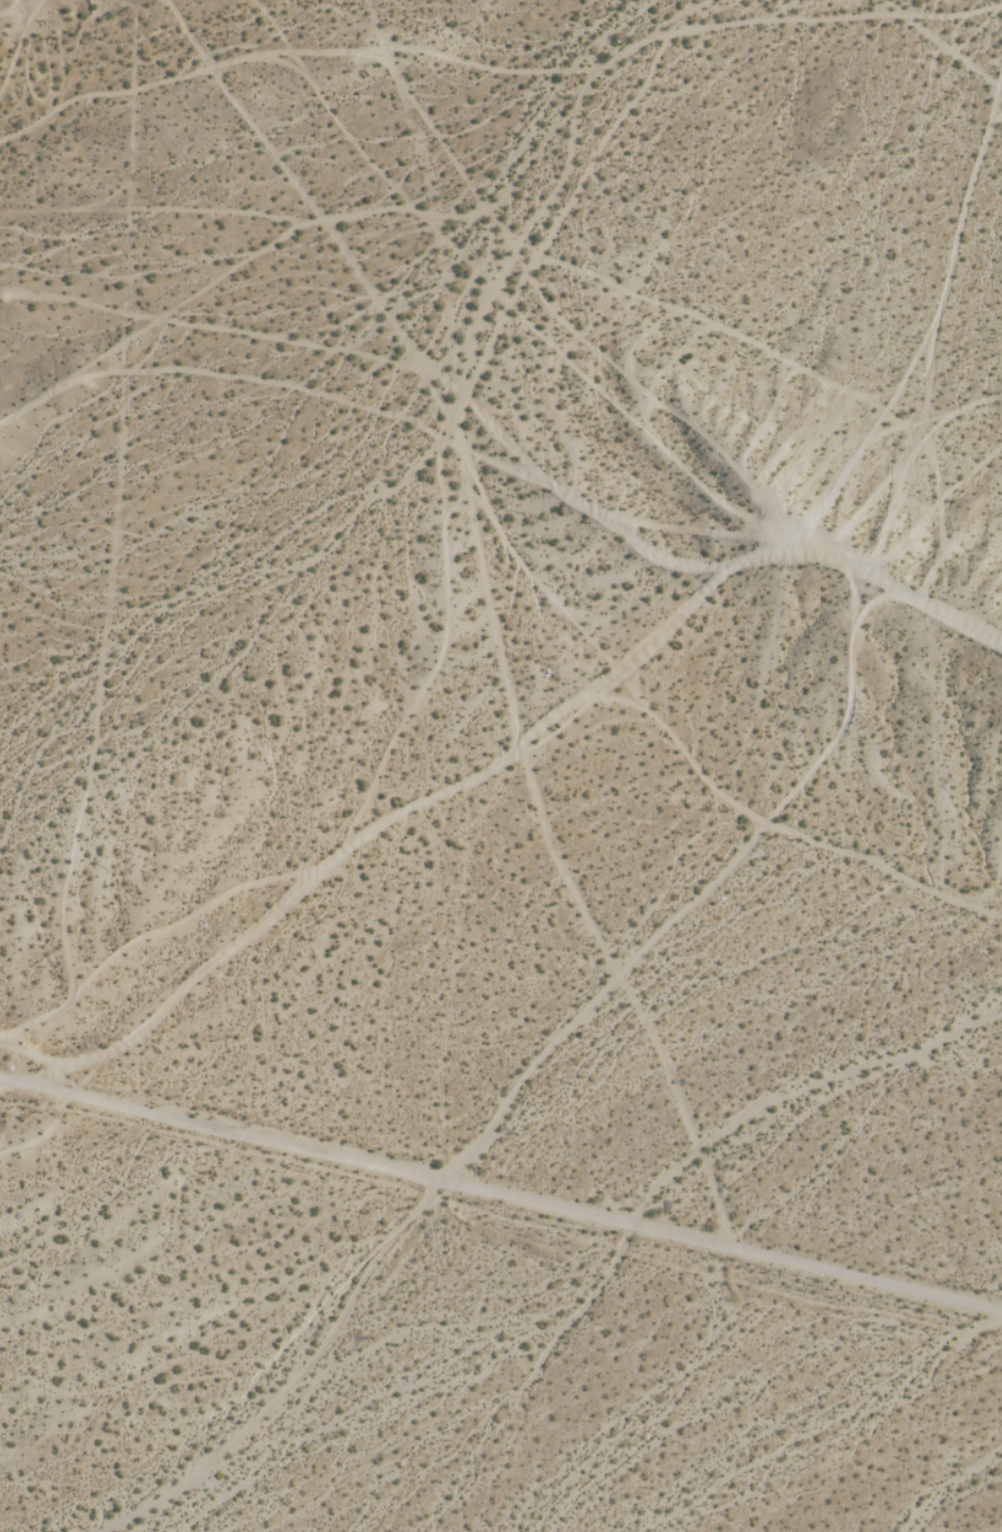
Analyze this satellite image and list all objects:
road: (501, 1183)

